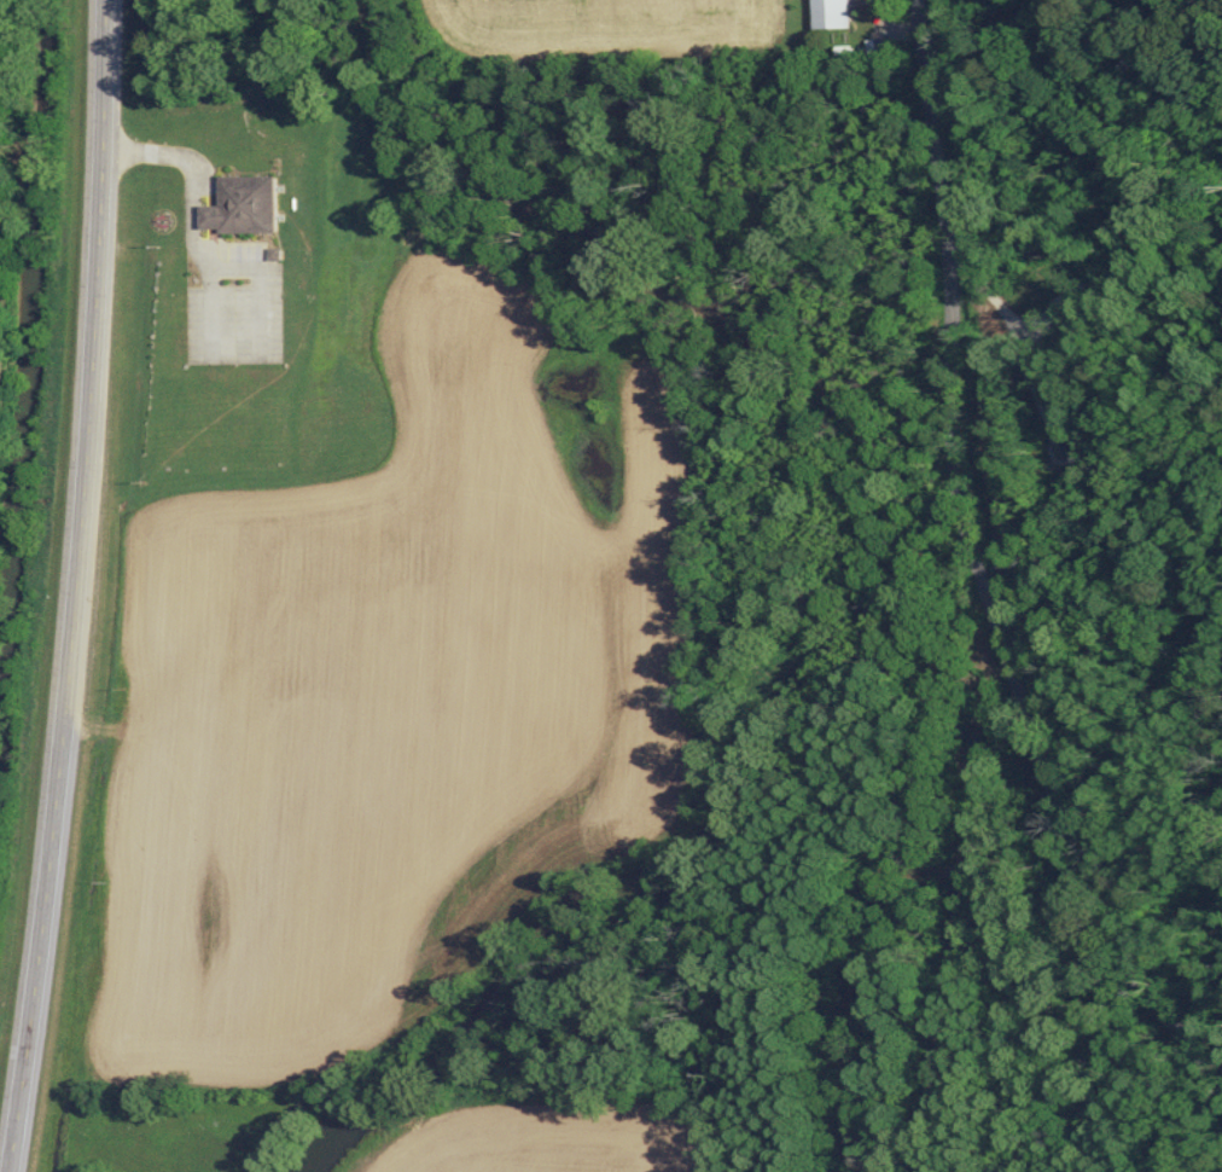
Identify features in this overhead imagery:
building: (833, 13)
road: (921, 16)
building: (248, 205)
road: (985, 586)
road: (76, 587)

